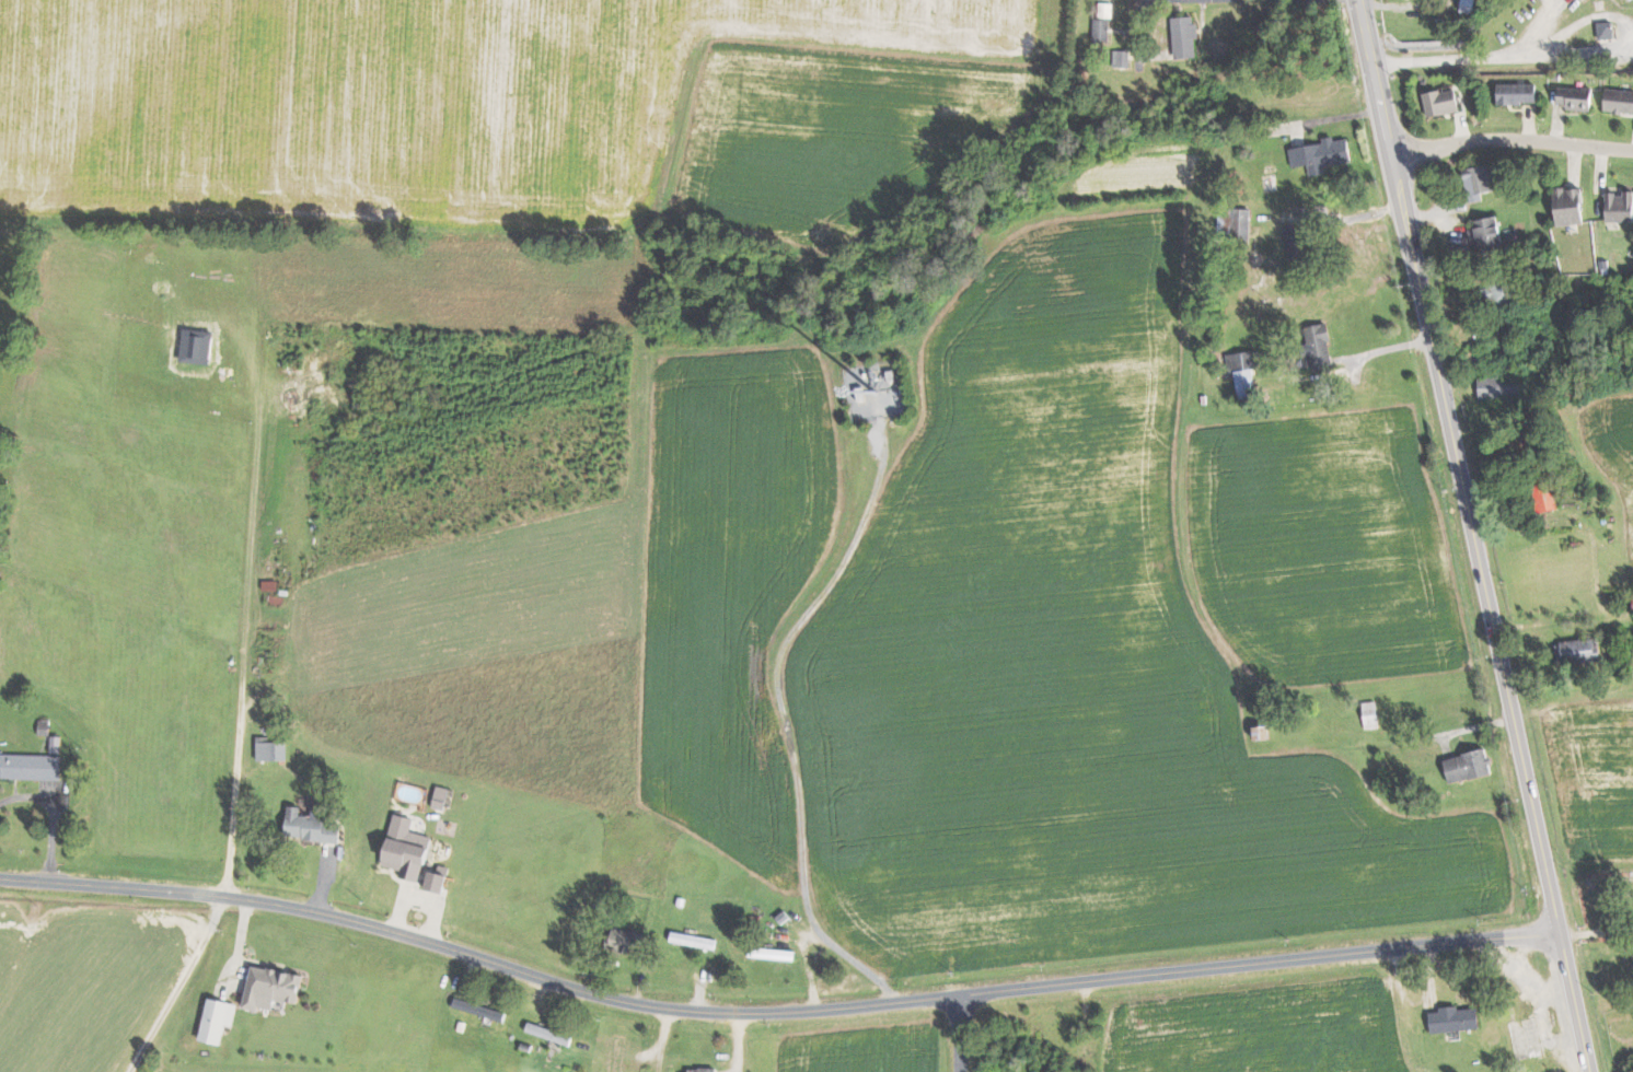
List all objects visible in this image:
road: (1235, 0)
building: (1107, 9)
road: (1575, 20)
building: (1102, 28)
building: (1607, 30)
building: (1185, 36)
building: (1122, 58)
road: (1502, 62)
building: (1520, 93)
building: (1578, 98)
building: (1619, 101)
building: (1443, 102)
road: (1512, 140)
building: (1322, 154)
building: (1481, 180)
building: (1572, 206)
building: (1620, 206)
road: (1347, 219)
building: (1487, 231)
building: (1297, 240)
building: (1501, 291)
building: (1320, 346)
building: (1244, 371)
building: (1502, 386)
road: (1457, 468)
building: (1547, 496)
road: (250, 584)
building: (1583, 650)
road: (781, 708)
building: (1373, 714)
building: (1264, 732)
building: (273, 749)
building: (31, 766)
building: (1470, 766)
building: (442, 797)
road: (54, 817)
building: (312, 825)
building: (408, 849)
building: (440, 878)
building: (708, 917)
road: (410, 939)
building: (693, 940)
building: (627, 941)
road: (1188, 972)
building: (273, 988)
road: (1573, 1004)
building: (480, 1010)
building: (219, 1019)
building: (1457, 1019)
building: (551, 1034)
road: (957, 1034)

